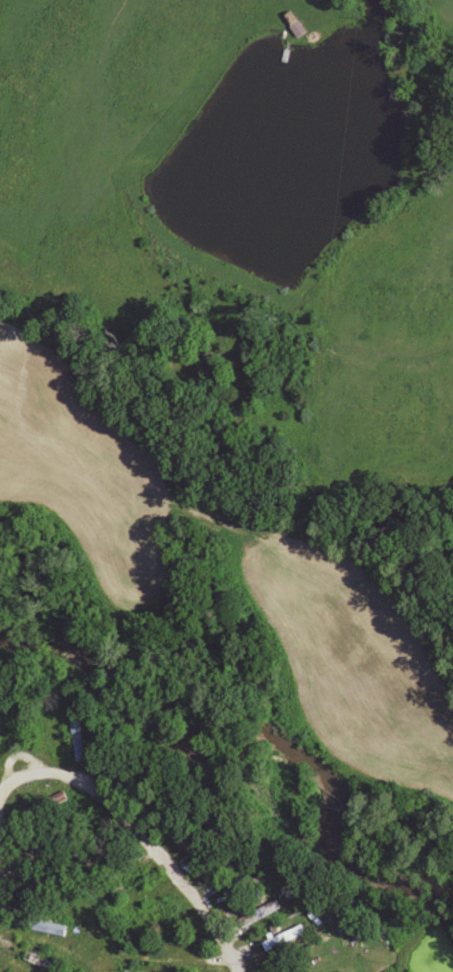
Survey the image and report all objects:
building: (295, 25)
building: (75, 741)
road: (140, 832)
building: (192, 850)
building: (264, 912)
building: (41, 927)
building: (285, 939)
building: (162, 960)
building: (40, 964)

